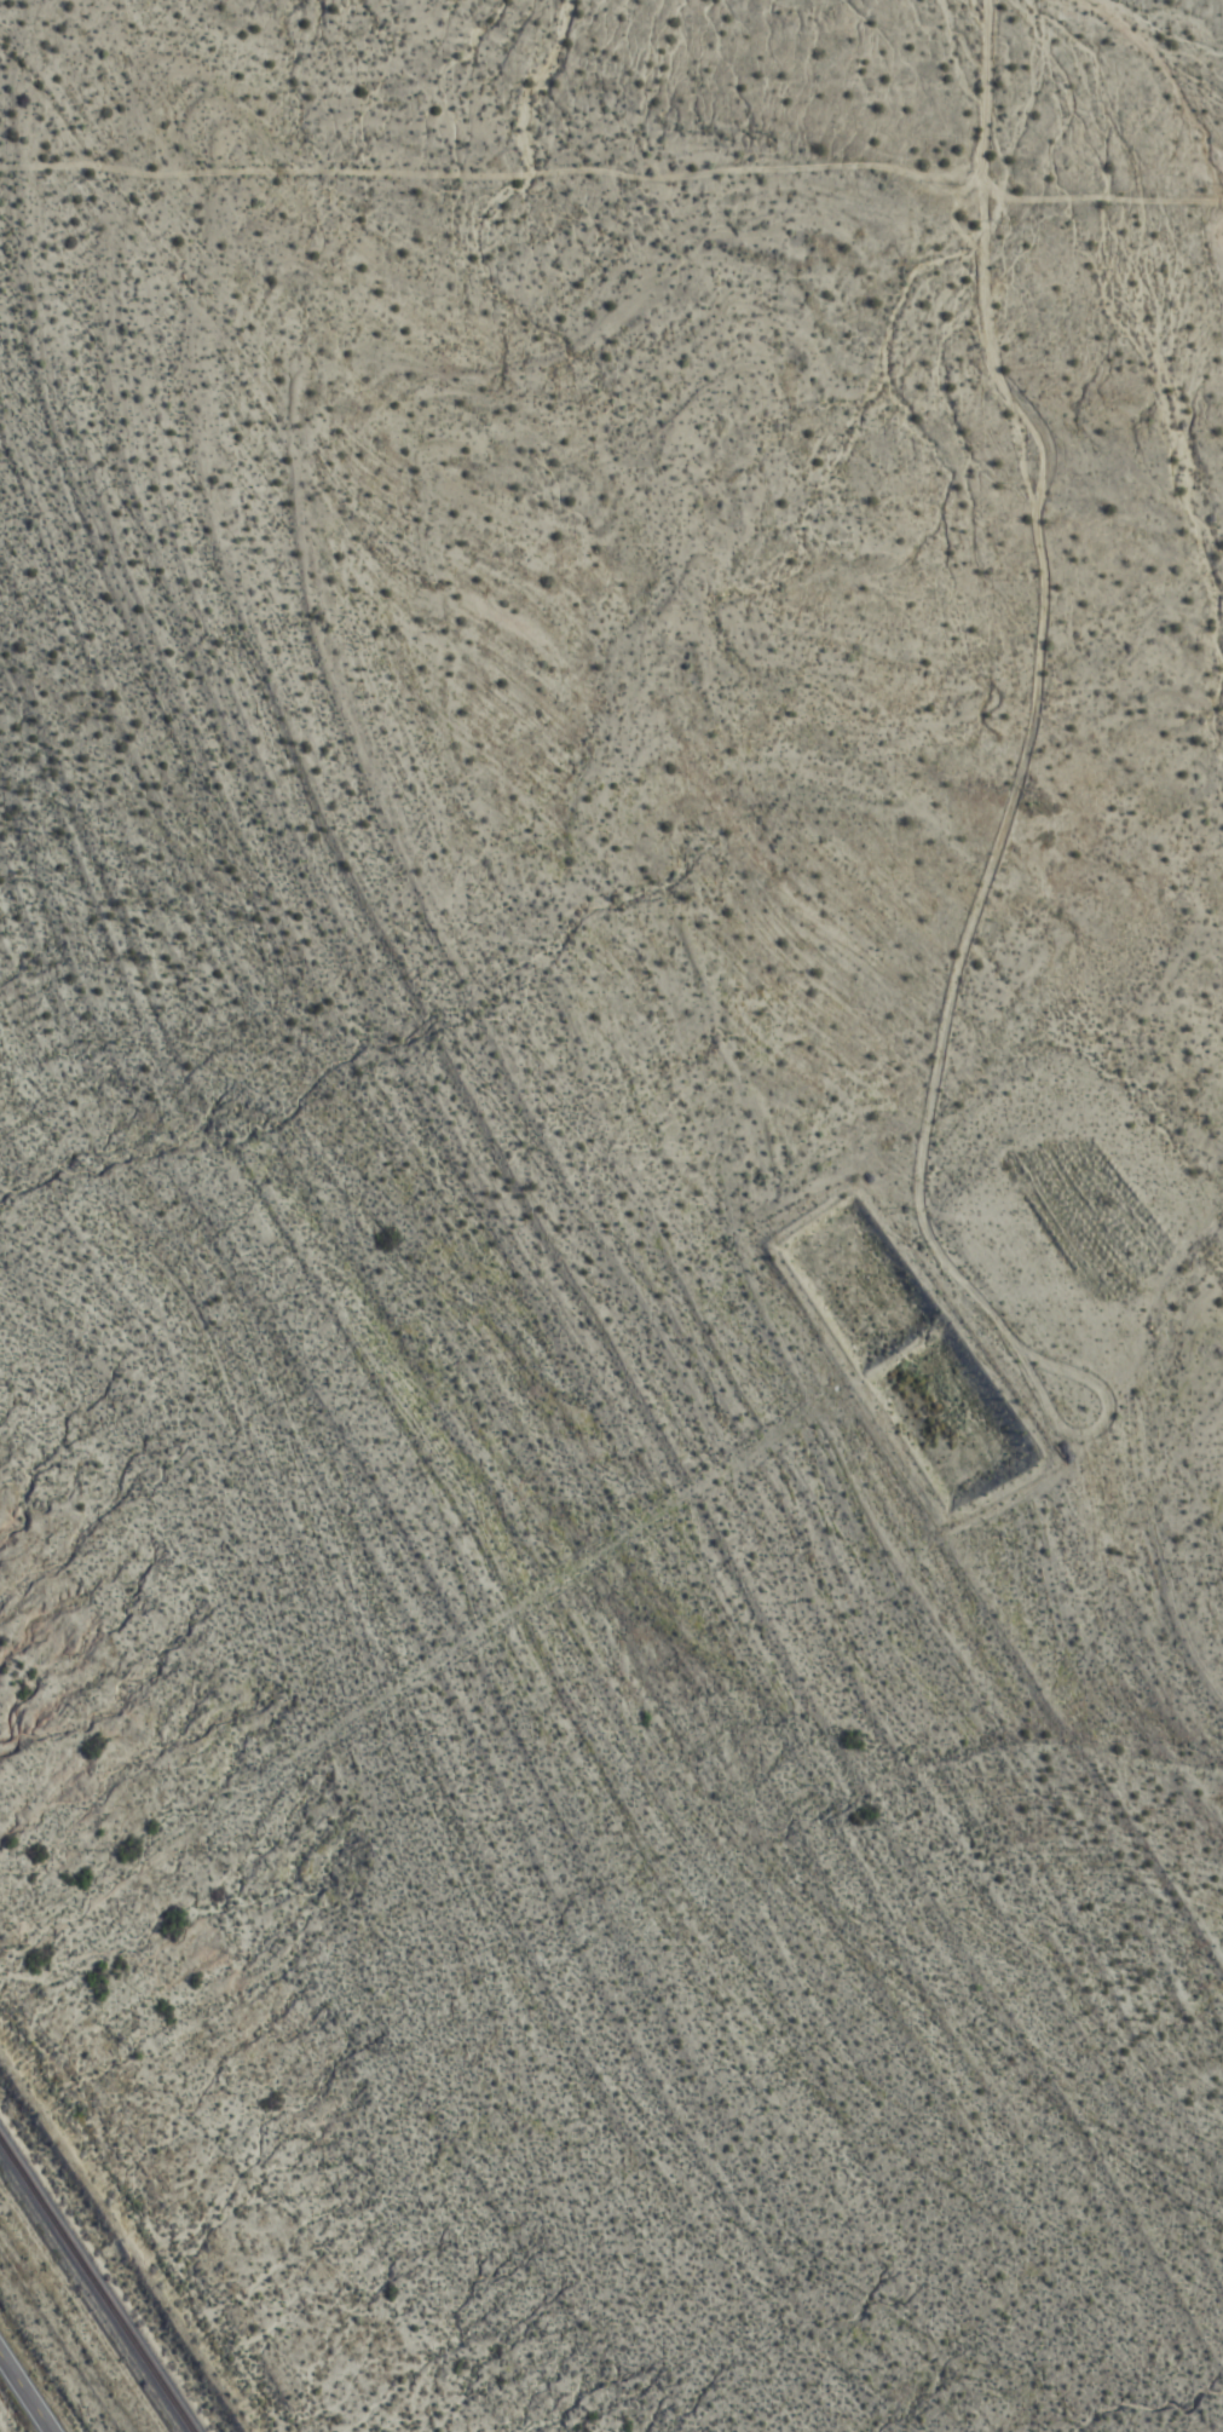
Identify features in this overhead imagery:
railway: (97, 2286)
road: (24, 2393)

